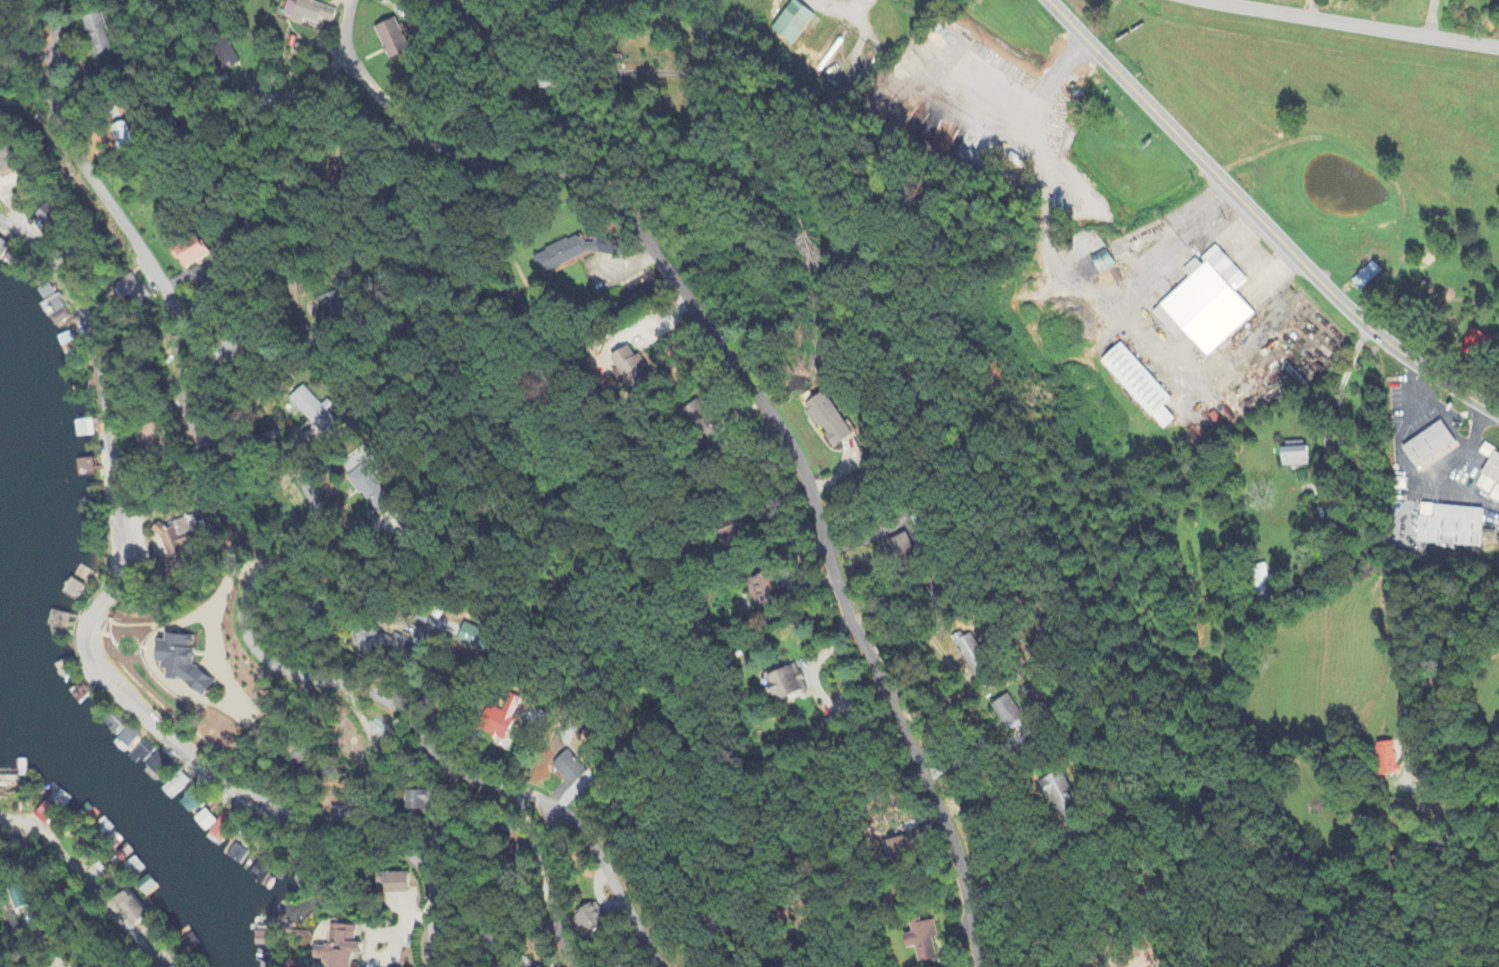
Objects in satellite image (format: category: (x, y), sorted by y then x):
building: (1498, 0)
road: (841, 4)
building: (304, 12)
road: (1430, 18)
building: (794, 22)
road: (1350, 24)
building: (101, 35)
building: (390, 40)
road: (707, 45)
building: (222, 54)
road: (29, 59)
road: (1032, 118)
building: (122, 139)
road: (284, 173)
road: (728, 201)
building: (46, 217)
road: (1262, 220)
road: (1244, 226)
road: (1235, 242)
building: (195, 253)
building: (557, 255)
building: (1098, 262)
building: (1367, 275)
road: (1071, 279)
building: (130, 288)
building: (41, 293)
building: (1208, 303)
building: (333, 305)
building: (1479, 342)
building: (628, 367)
building: (1138, 384)
road: (757, 395)
road: (1426, 397)
road: (1329, 409)
building: (316, 410)
road: (431, 410)
building: (699, 420)
building: (825, 421)
building: (1431, 446)
building: (1488, 450)
building: (1296, 454)
road: (1440, 469)
building: (1494, 469)
building: (1487, 484)
building: (373, 491)
building: (1496, 495)
building: (1334, 511)
building: (1454, 526)
building: (732, 530)
building: (902, 549)
road: (297, 552)
road: (1426, 566)
building: (1261, 587)
building: (762, 590)
building: (476, 639)
building: (385, 644)
building: (970, 653)
building: (187, 664)
road: (88, 666)
road: (1445, 670)
building: (784, 684)
road: (233, 710)
building: (1005, 712)
building: (510, 717)
road: (1489, 741)
road: (971, 759)
building: (1387, 759)
building: (573, 770)
building: (1058, 795)
building: (417, 801)
building: (47, 815)
building: (203, 821)
building: (897, 847)
road: (1013, 863)
building: (394, 884)
road: (557, 888)
building: (35, 901)
road: (47, 904)
building: (127, 909)
building: (600, 920)
building: (263, 940)
building: (919, 941)
building: (343, 948)

